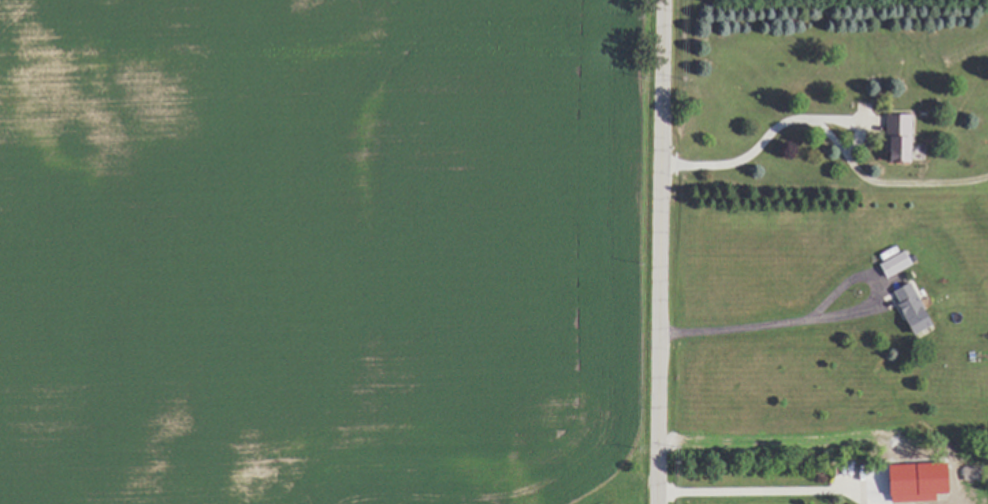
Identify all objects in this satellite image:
building: (892, 139)
road: (762, 140)
road: (658, 252)
building: (890, 263)
building: (905, 306)
road: (740, 328)
building: (882, 478)
road: (763, 492)

